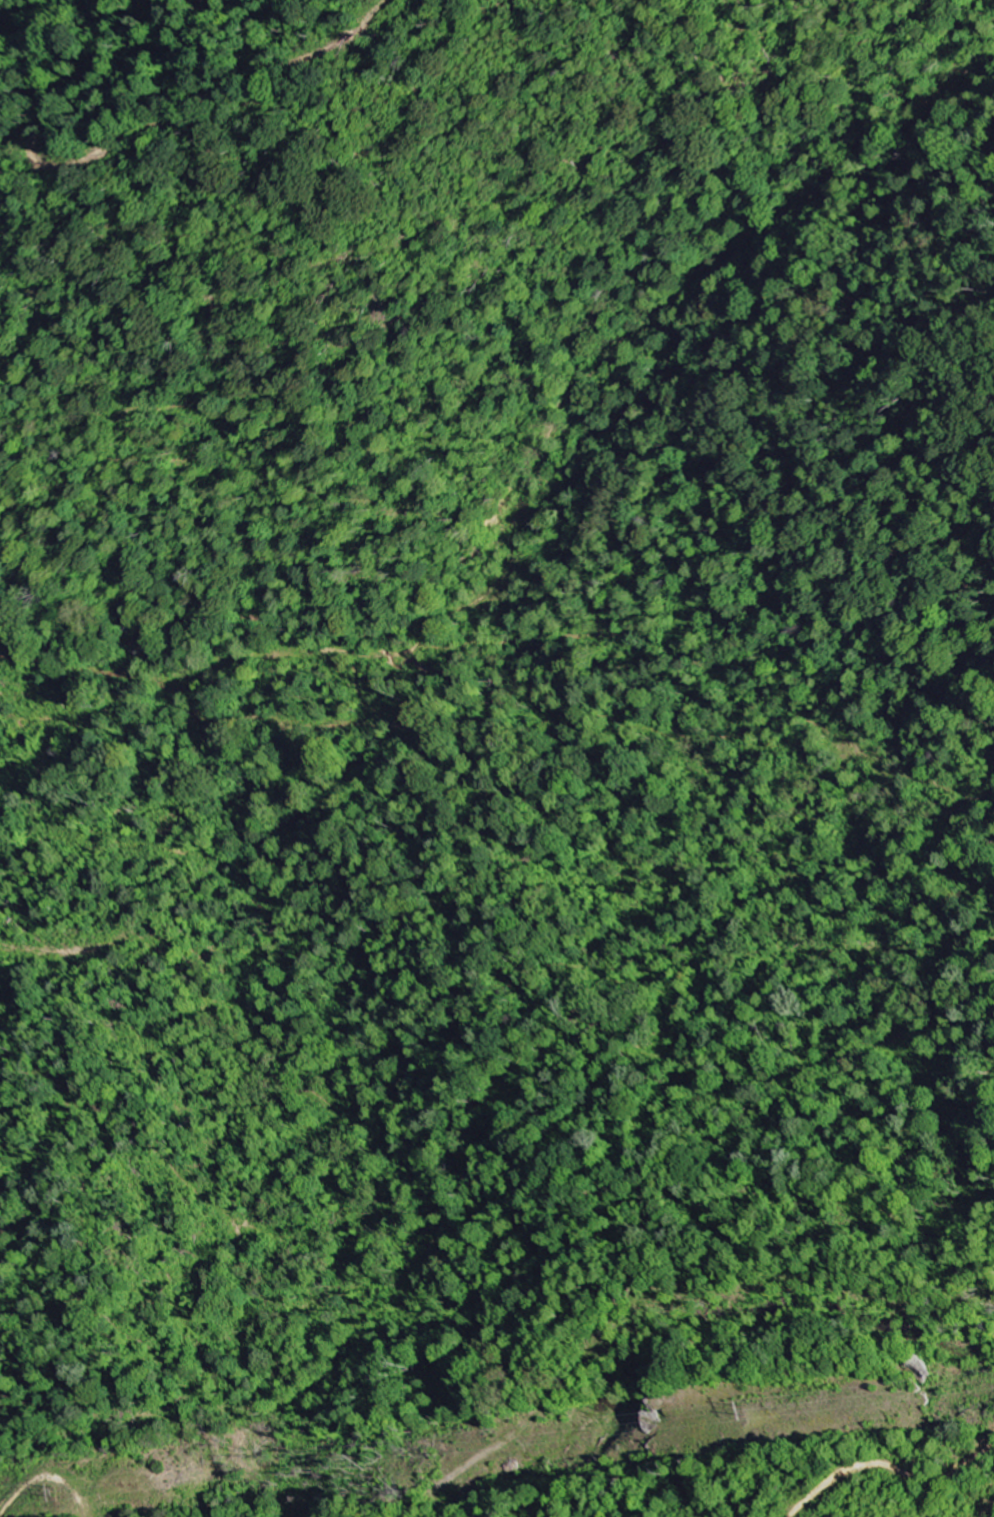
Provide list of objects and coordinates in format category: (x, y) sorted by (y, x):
power tower: (904, 1383)

